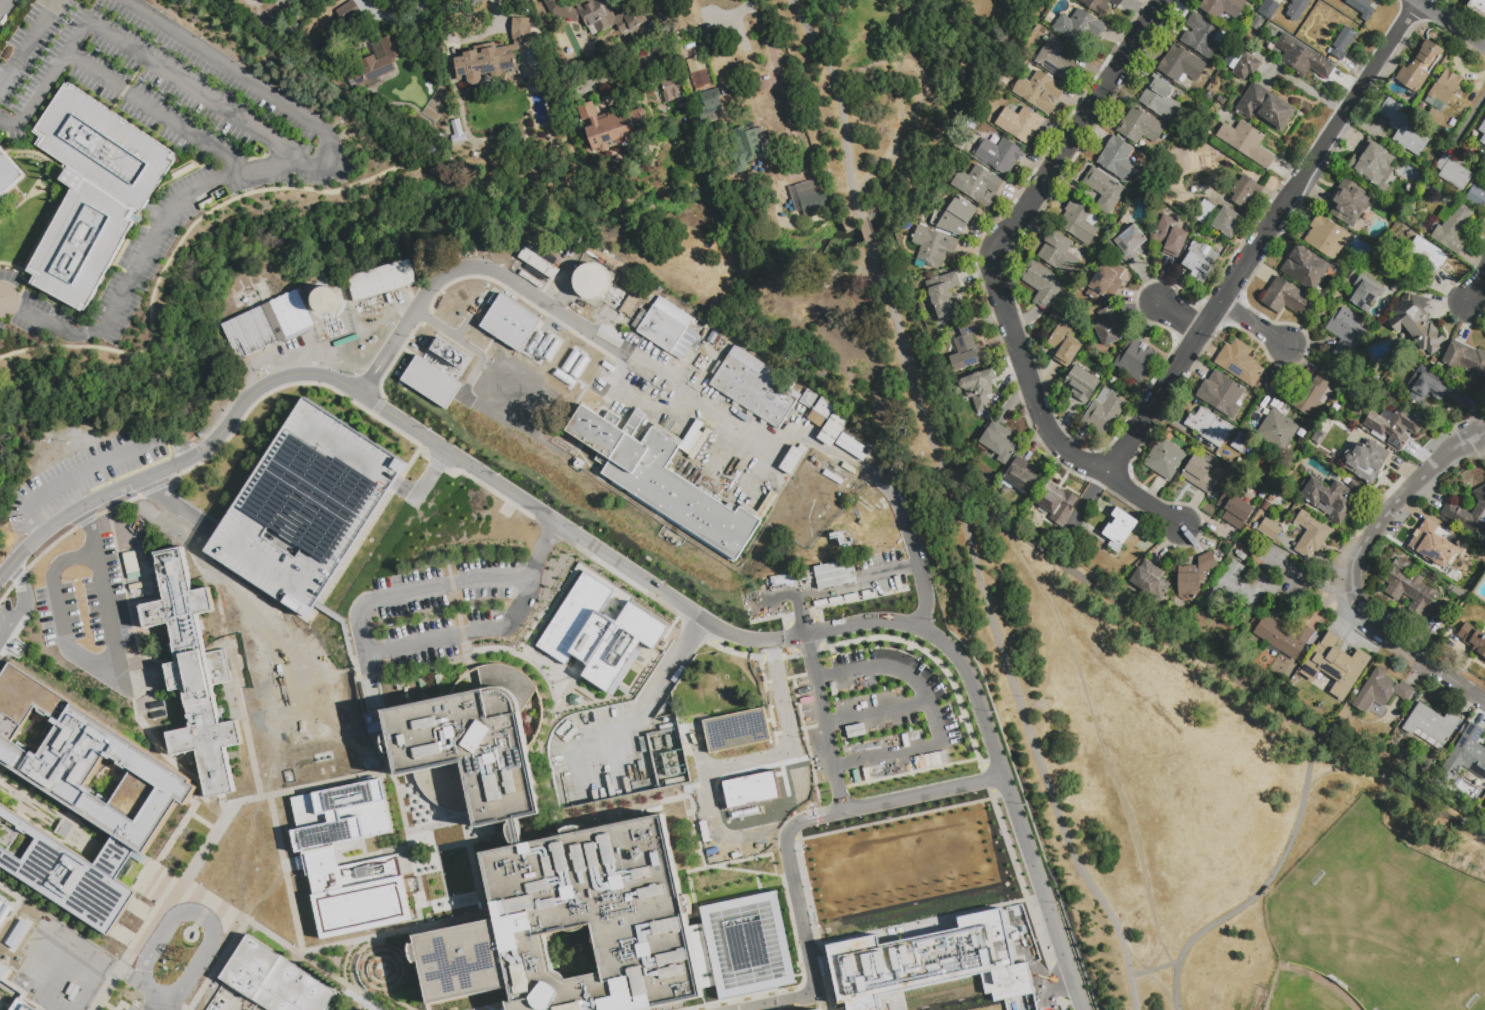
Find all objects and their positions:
building: (1100, 6)
road: (656, 8)
building: (1268, 8)
building: (1361, 8)
building: (1478, 8)
building: (1223, 9)
road: (8, 11)
building: (1294, 13)
road: (397, 14)
building: (349, 15)
building: (595, 15)
road: (896, 22)
road: (1451, 22)
building: (1256, 23)
building: (1080, 29)
building: (1202, 38)
road: (29, 42)
building: (1343, 45)
building: (690, 46)
road: (138, 53)
building: (492, 56)
building: (1302, 60)
building: (380, 61)
building: (1057, 62)
building: (693, 64)
road: (774, 64)
road: (869, 65)
road: (222, 66)
road: (915, 67)
building: (1182, 67)
building: (1246, 69)
building: (1421, 69)
building: (700, 78)
park: (883, 81)
building: (672, 91)
road: (896, 92)
building: (1039, 92)
building: (1444, 92)
building: (1160, 100)
road: (839, 105)
building: (1266, 109)
building: (711, 110)
road: (162, 113)
building: (1436, 119)
building: (1021, 125)
building: (613, 128)
building: (1141, 129)
road: (1079, 130)
building: (1404, 130)
building: (1482, 130)
building: (1483, 143)
road: (892, 145)
building: (1247, 145)
building: (750, 147)
building: (410, 151)
building: (1002, 158)
building: (1119, 163)
building: (1381, 164)
building: (10, 173)
building: (1454, 175)
building: (979, 187)
building: (94, 191)
building: (1105, 191)
building: (220, 195)
building: (1246, 195)
building: (807, 199)
building: (1477, 199)
building: (206, 204)
building: (1349, 205)
building: (1205, 213)
building: (0, 216)
building: (955, 218)
building: (1081, 224)
building: (1227, 225)
road: (865, 230)
building: (1453, 231)
road: (156, 234)
road: (1262, 237)
building: (1171, 238)
building: (1328, 239)
building: (1130, 246)
building: (933, 248)
building: (1059, 255)
building: (538, 263)
building: (1426, 263)
building: (1201, 264)
building: (1305, 270)
building: (591, 280)
building: (383, 283)
building: (1107, 283)
building: (1043, 286)
road: (1477, 288)
building: (942, 293)
building: (1366, 294)
building: (325, 299)
building: (1285, 299)
road: (2, 302)
building: (637, 303)
road: (1182, 319)
building: (1417, 322)
road: (1257, 324)
building: (666, 327)
building: (1110, 329)
building: (250, 332)
building: (1345, 332)
building: (713, 338)
building: (1065, 347)
building: (967, 350)
building: (447, 354)
building: (1465, 360)
building: (1137, 362)
building: (1242, 366)
road: (667, 375)
building: (430, 381)
building: (1083, 386)
building: (1425, 386)
building: (755, 389)
building: (979, 392)
building: (1312, 395)
building: (1454, 396)
building: (1225, 397)
building: (809, 401)
road: (379, 406)
building: (822, 414)
building: (1105, 414)
road: (1044, 426)
building: (1341, 427)
building: (1394, 427)
building: (1209, 429)
building: (834, 432)
building: (1278, 432)
building: (595, 433)
building: (691, 437)
building: (1241, 442)
building: (1000, 444)
building: (698, 445)
road: (182, 446)
building: (854, 449)
road: (124, 456)
building: (793, 461)
building: (1166, 461)
building: (1364, 463)
parking lot: (91, 475)
building: (1200, 477)
building: (1024, 479)
building: (471, 480)
road: (424, 484)
road: (53, 489)
building: (676, 491)
building: (1262, 494)
building: (1271, 498)
building: (1332, 500)
building: (1058, 505)
building: (1265, 505)
road: (177, 506)
building: (305, 506)
building: (1235, 512)
building: (1468, 513)
road: (1083, 514)
road: (31, 519)
road: (87, 522)
building: (1120, 532)
building: (1270, 532)
building: (1311, 536)
building: (1481, 537)
road: (92, 545)
building: (1439, 551)
building: (1240, 555)
building: (833, 574)
road: (1355, 574)
building: (1195, 578)
road: (1056, 579)
road: (1308, 580)
building: (1150, 583)
building: (1411, 589)
building: (1243, 590)
building: (1458, 591)
road: (23, 604)
parking lot: (86, 604)
parking lot: (440, 608)
road: (996, 628)
building: (599, 632)
building: (1286, 639)
road: (806, 641)
building: (1471, 642)
road: (385, 651)
road: (86, 659)
road: (1217, 661)
building: (1336, 667)
road: (670, 671)
road: (900, 672)
building: (195, 675)
building: (624, 689)
building: (1381, 693)
building: (159, 711)
road: (876, 712)
parking lot: (877, 718)
road: (1094, 726)
building: (741, 727)
building: (1431, 728)
road: (985, 740)
building: (469, 748)
road: (886, 755)
building: (1466, 758)
parking lot: (599, 759)
road: (1331, 769)
building: (750, 789)
building: (80, 799)
road: (766, 828)
building: (514, 832)
building: (829, 836)
road: (787, 838)
building: (321, 860)
road: (1265, 884)
building: (3, 911)
road: (195, 912)
park: (1393, 918)
building: (605, 928)
road: (1165, 956)
building: (927, 963)
road: (1154, 969)
road: (1152, 979)
building: (274, 980)
park: (1304, 991)
building: (13, 993)
road: (155, 1002)
building: (691, 1002)
parking lot: (131, 1005)
road: (149, 1009)
road: (150, 1009)
building: (648, 1009)
building: (817, 1009)

